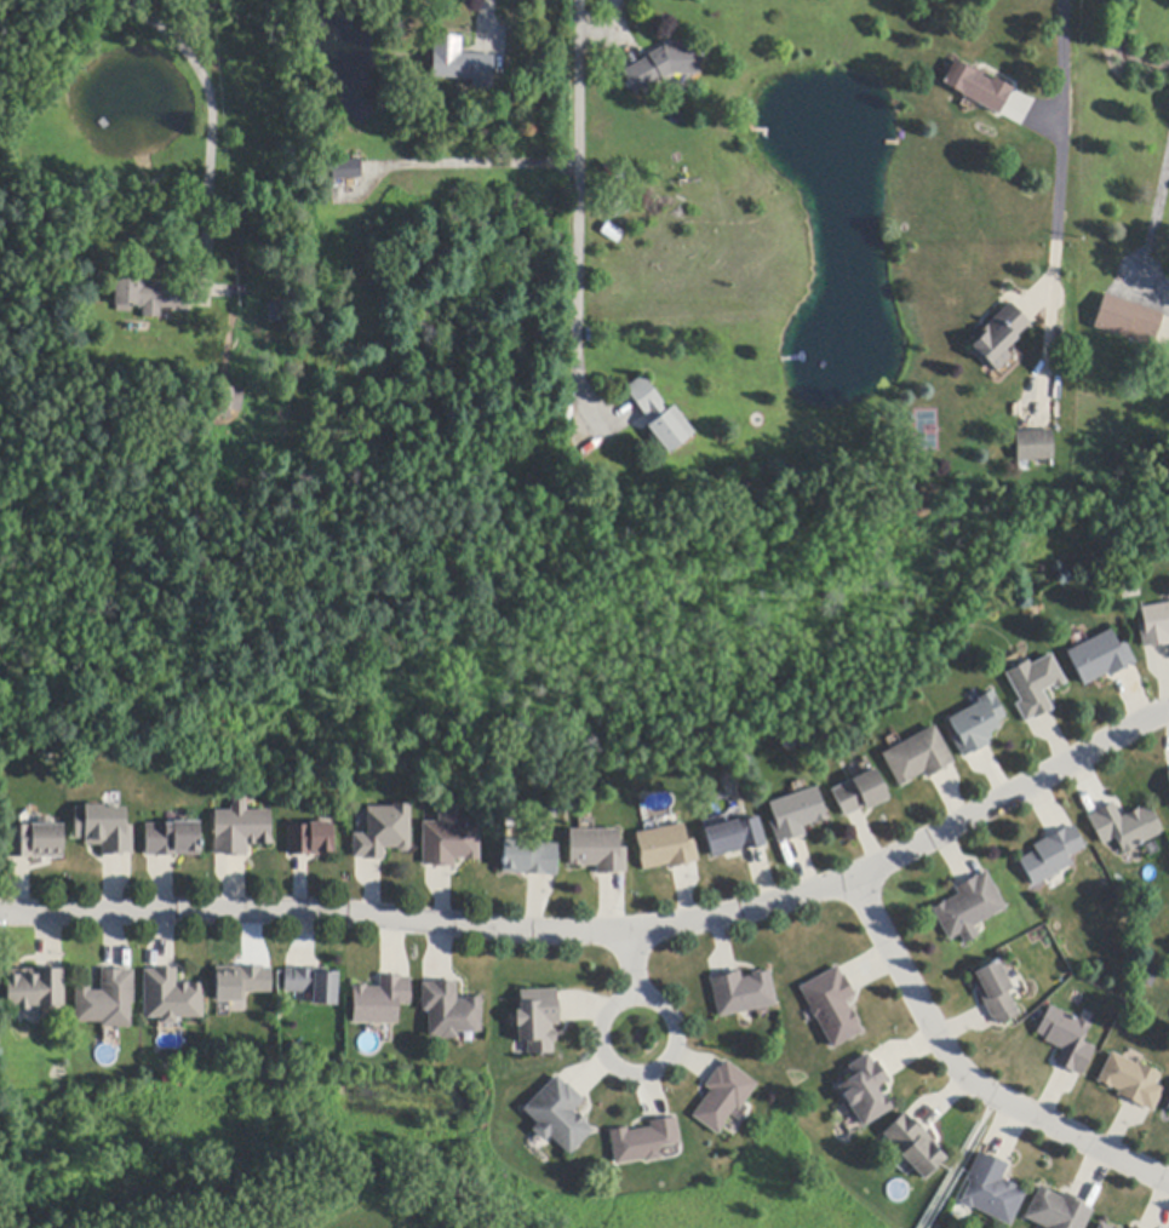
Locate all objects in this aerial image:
road: (483, 12)
road: (614, 35)
building: (460, 63)
building: (663, 65)
building: (976, 87)
road: (210, 121)
road: (479, 163)
building: (346, 170)
road: (1058, 179)
road: (578, 199)
road: (1157, 212)
building: (150, 295)
building: (1127, 321)
building: (999, 337)
building: (234, 400)
building: (660, 415)
building: (1033, 446)
building: (1154, 626)
building: (1100, 659)
building: (1033, 687)
building: (975, 725)
building: (917, 757)
building: (1168, 775)
building: (859, 793)
building: (796, 814)
building: (1124, 827)
building: (104, 830)
building: (241, 831)
building: (384, 832)
building: (734, 837)
building: (173, 839)
building: (310, 839)
building: (34, 840)
building: (449, 843)
building: (665, 848)
building: (597, 851)
building: (1051, 856)
building: (529, 859)
building: (969, 908)
park: (488, 912)
road: (608, 931)
road: (634, 963)
building: (1146, 976)
building: (241, 982)
building: (314, 985)
building: (33, 988)
building: (996, 991)
building: (741, 993)
building: (171, 997)
building: (107, 1000)
building: (380, 1002)
building: (831, 1006)
building: (449, 1010)
building: (537, 1020)
road: (602, 1034)
building: (1067, 1040)
crop: (0, 1051)
road: (964, 1077)
building: (1131, 1081)
building: (865, 1091)
building: (723, 1096)
building: (1167, 1108)
building: (558, 1117)
building: (643, 1142)
building: (913, 1146)
park: (955, 1165)
park: (1, 1172)
building: (990, 1190)
park: (382, 1209)
building: (1056, 1211)
building: (1101, 1226)
building: (1111, 1227)
building: (1131, 1227)
building: (1134, 1227)

